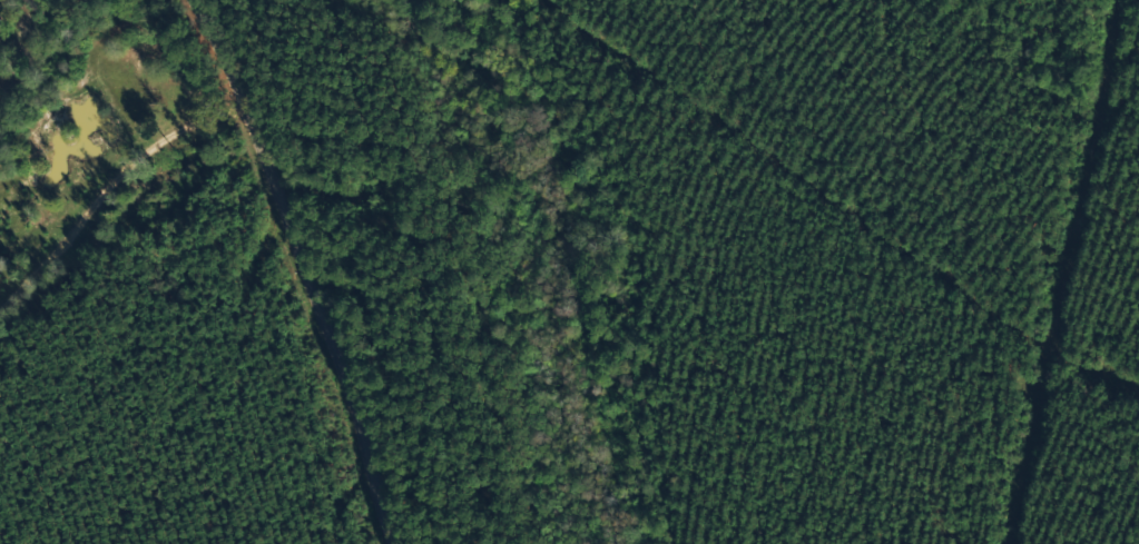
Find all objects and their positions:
road: (289, 266)

